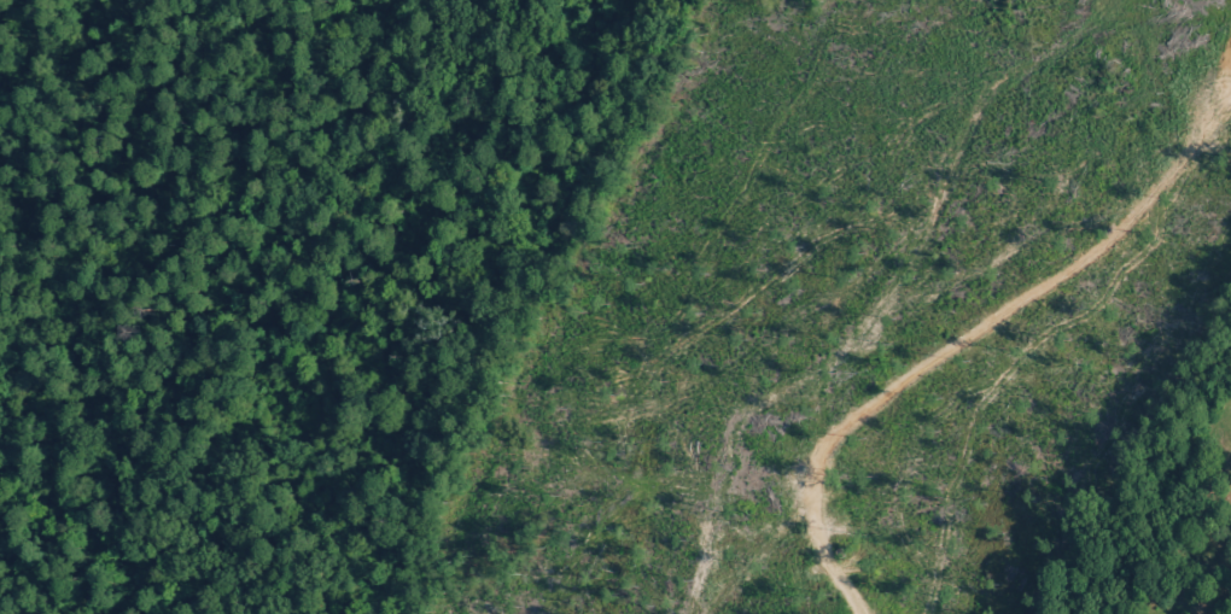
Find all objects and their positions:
road: (436, 504)

